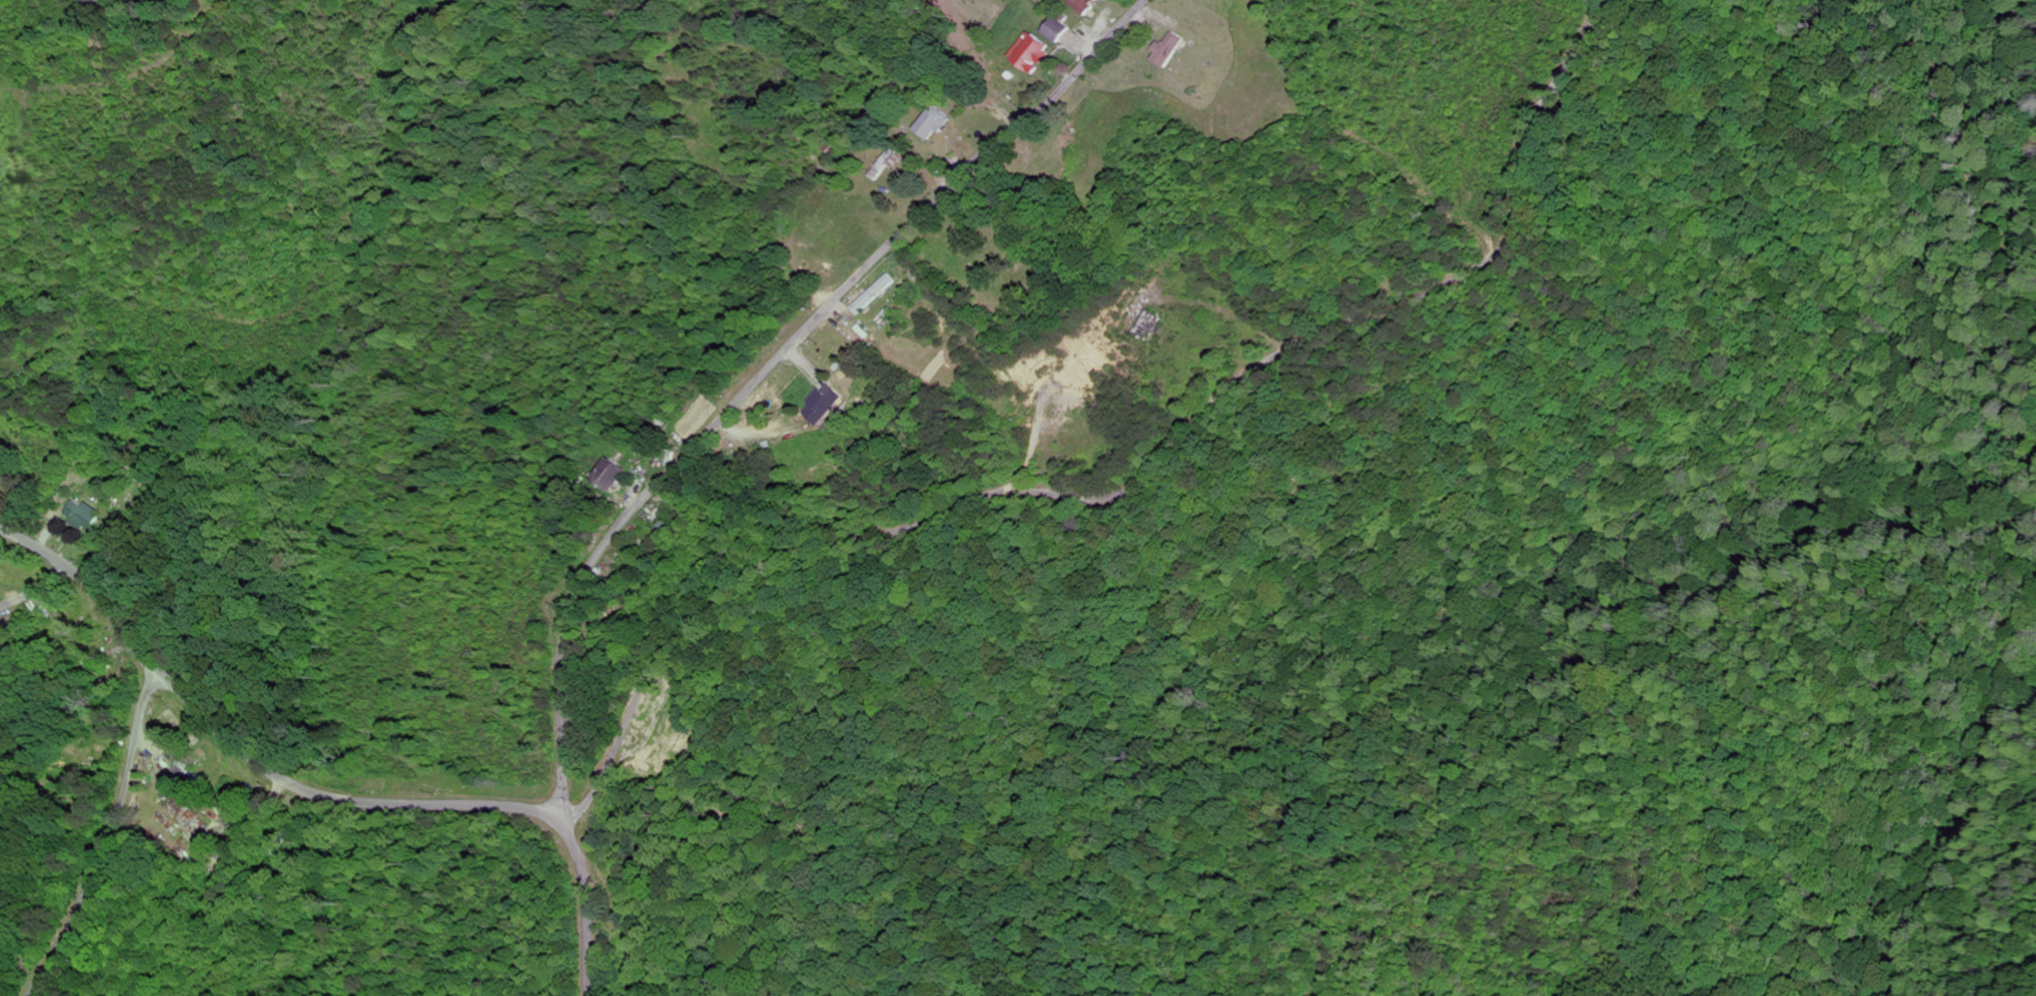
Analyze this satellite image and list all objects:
building: (1056, 30)
building: (1082, 30)
building: (1166, 50)
building: (1029, 53)
building: (934, 124)
building: (885, 167)
building: (873, 295)
building: (826, 405)
building: (611, 476)
building: (82, 516)
road: (652, 666)
road: (320, 793)
road: (110, 835)

